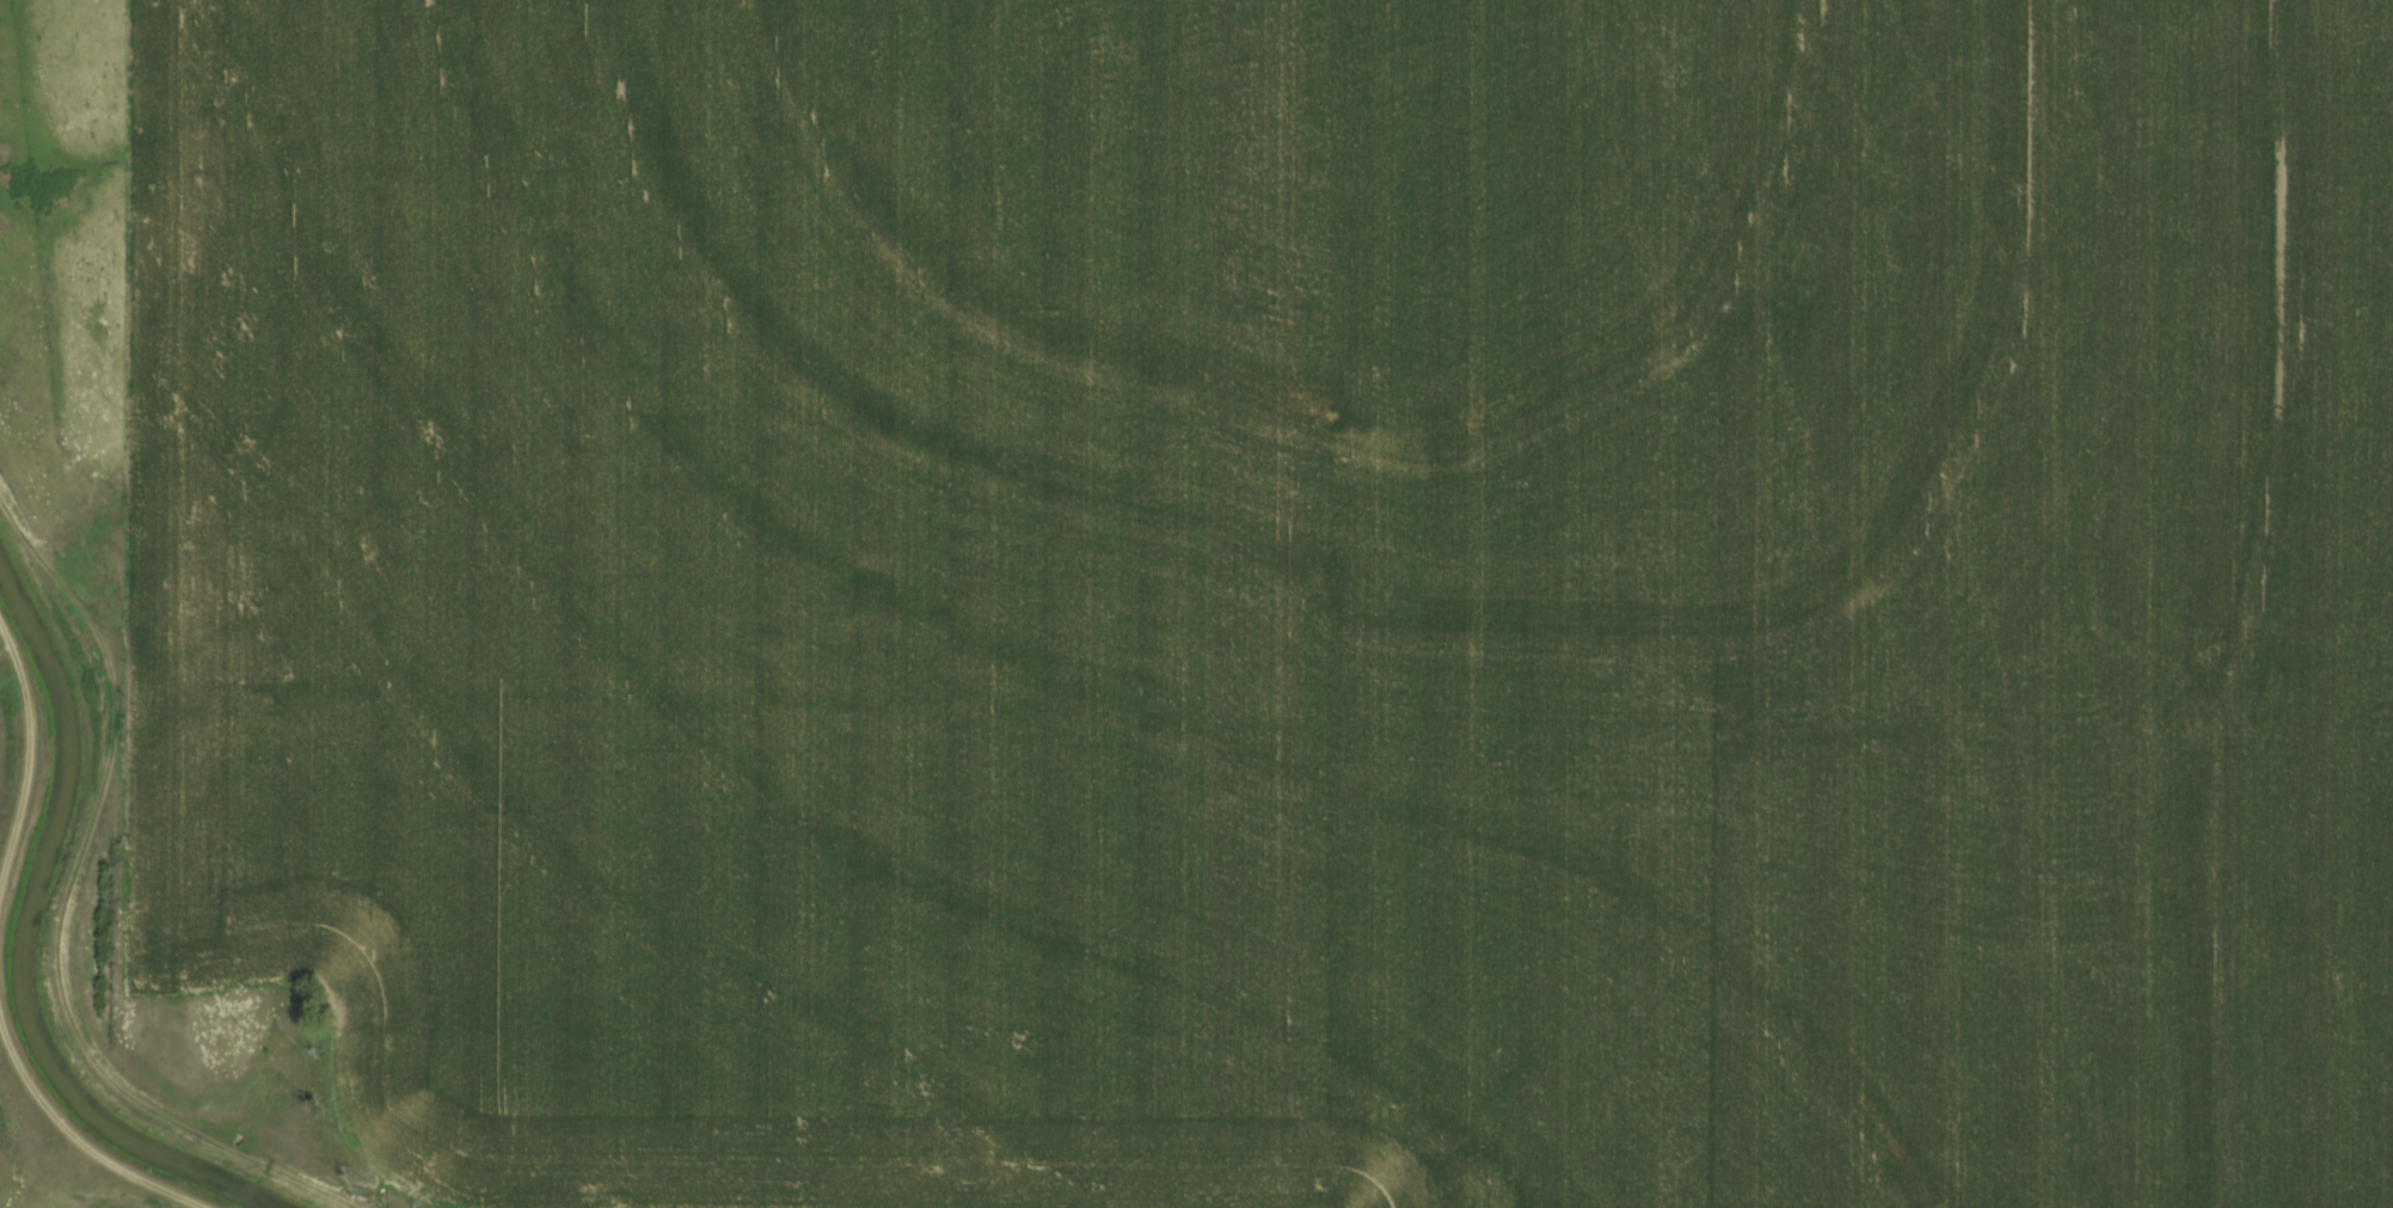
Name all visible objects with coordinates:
road: (30, 752)
road: (81, 1140)

